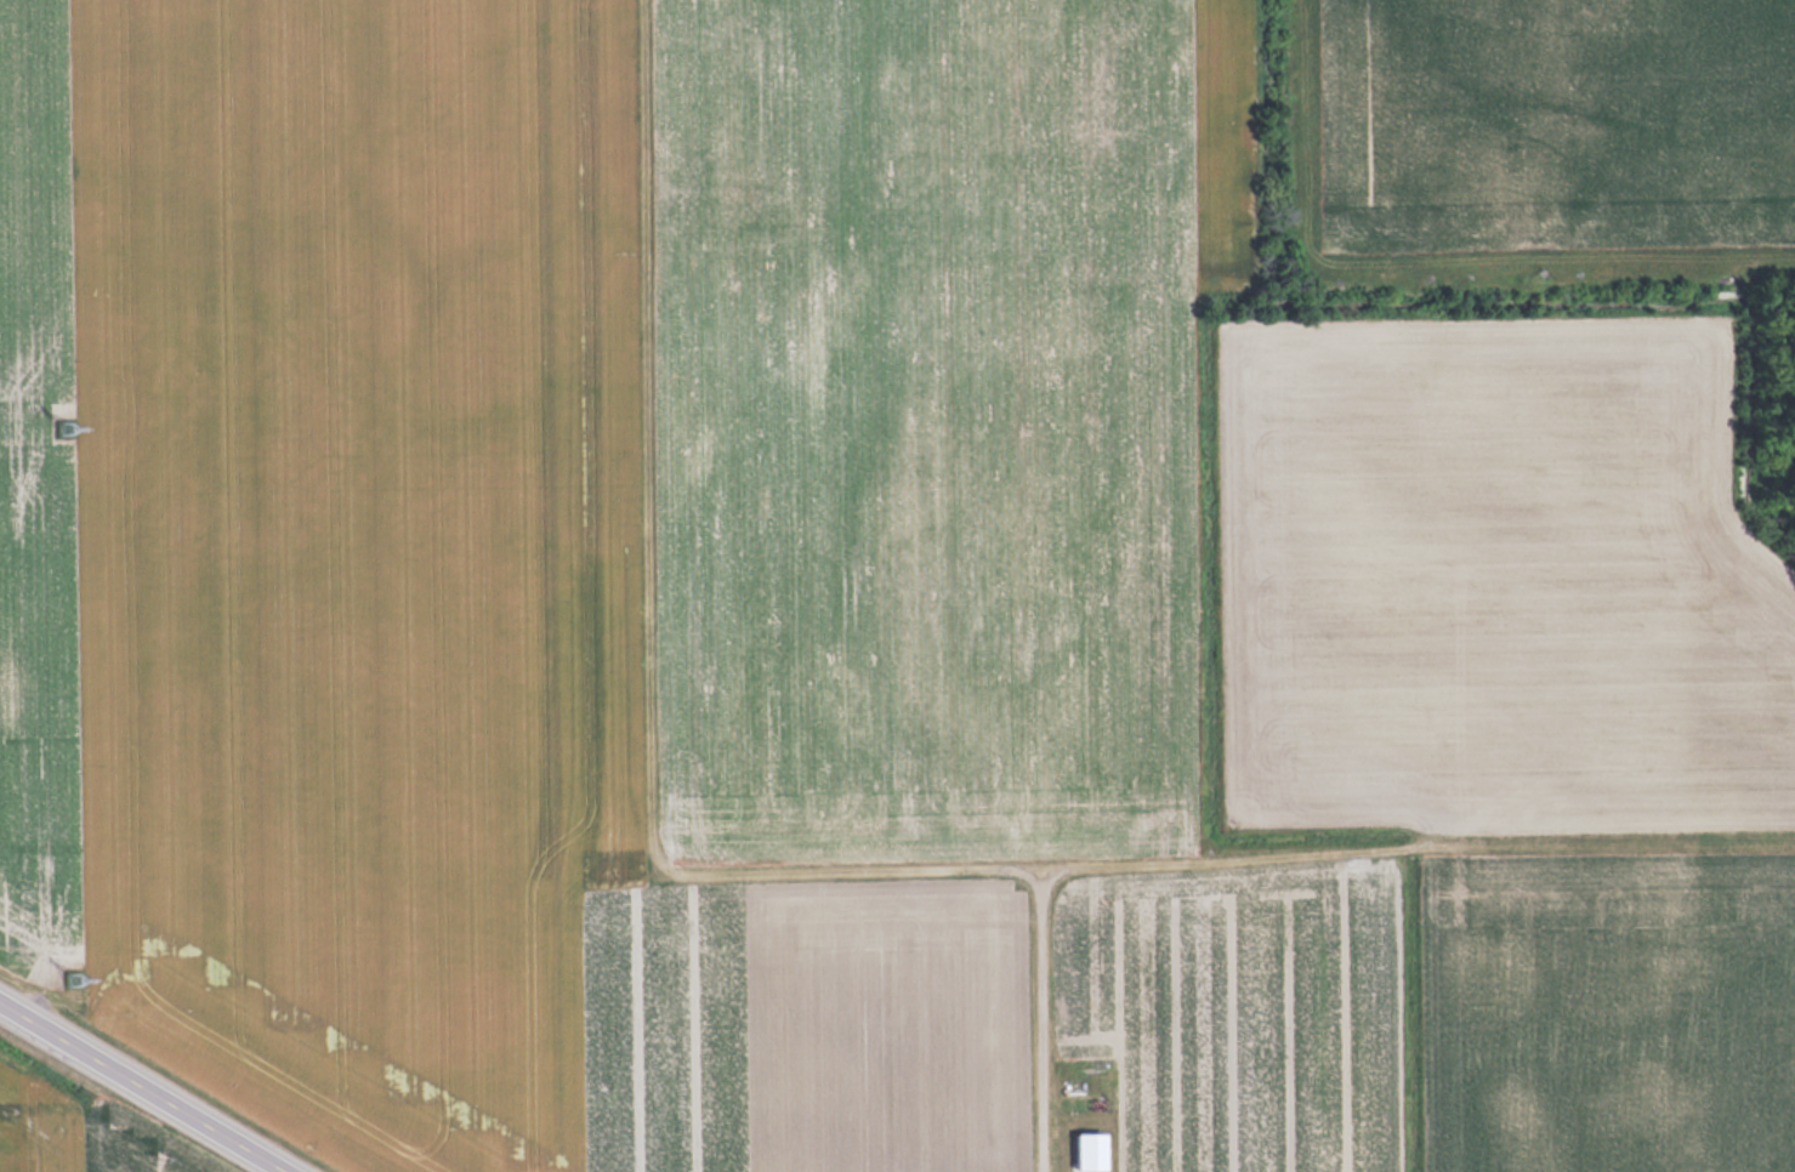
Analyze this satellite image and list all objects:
power tower: (68, 434)
power tower: (75, 983)
road: (141, 1087)

